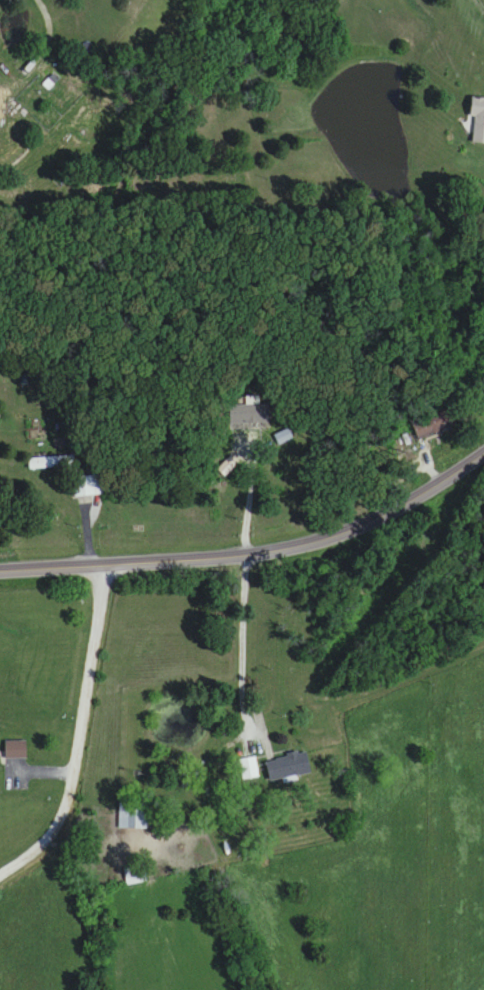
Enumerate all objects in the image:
road: (48, 14)
building: (476, 120)
building: (248, 413)
building: (434, 424)
building: (50, 462)
building: (88, 485)
road: (249, 498)
road: (252, 549)
road: (242, 653)
road: (81, 734)
building: (15, 749)
building: (286, 765)
building: (249, 768)
building: (134, 819)

